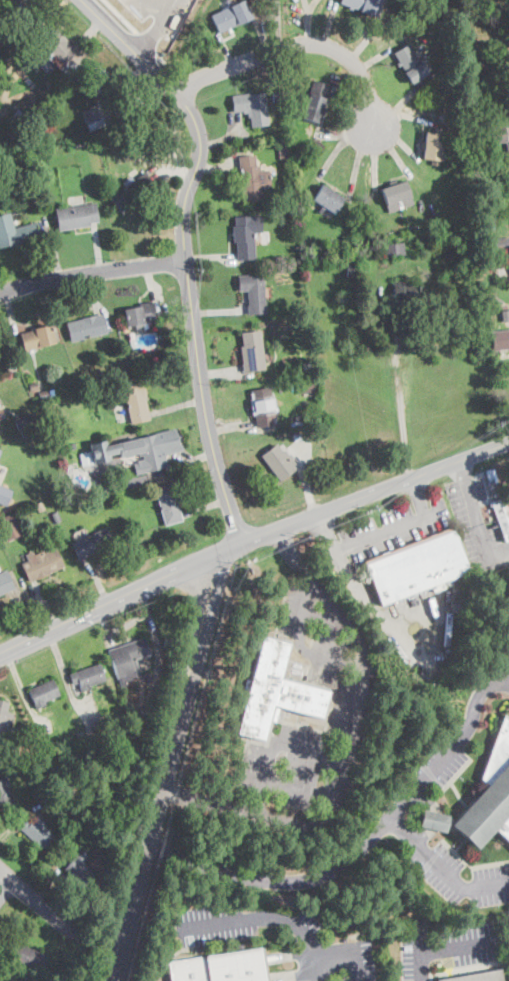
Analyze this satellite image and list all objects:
building: (11, 1)
road: (20, 2)
road: (310, 5)
building: (363, 5)
road: (155, 9)
building: (231, 16)
road: (307, 21)
road: (329, 24)
road: (278, 25)
road: (156, 27)
road: (259, 28)
road: (366, 41)
building: (1, 44)
road: (296, 45)
building: (54, 47)
building: (10, 51)
road: (226, 51)
road: (373, 58)
building: (410, 63)
building: (97, 79)
building: (275, 83)
road: (125, 85)
building: (277, 97)
building: (315, 101)
road: (400, 104)
building: (252, 107)
road: (405, 116)
building: (94, 119)
building: (26, 122)
road: (342, 130)
road: (240, 132)
building: (498, 135)
building: (142, 136)
road: (225, 136)
building: (89, 146)
road: (406, 146)
building: (433, 146)
building: (282, 149)
building: (455, 149)
building: (47, 152)
building: (508, 152)
road: (336, 153)
road: (395, 154)
road: (357, 160)
road: (215, 163)
road: (376, 165)
road: (172, 170)
building: (252, 178)
building: (133, 193)
building: (396, 193)
building: (328, 200)
building: (76, 216)
building: (15, 231)
building: (244, 237)
building: (501, 243)
road: (55, 247)
road: (96, 247)
building: (394, 249)
road: (184, 250)
building: (444, 255)
road: (209, 259)
building: (352, 271)
road: (91, 272)
road: (153, 291)
building: (253, 292)
building: (407, 293)
road: (95, 301)
building: (303, 306)
road: (217, 310)
road: (374, 310)
road: (11, 312)
building: (139, 315)
building: (505, 315)
building: (86, 327)
building: (38, 337)
building: (500, 339)
building: (252, 351)
building: (308, 366)
building: (10, 367)
building: (134, 369)
road: (397, 372)
road: (220, 373)
building: (88, 385)
building: (34, 386)
building: (306, 386)
building: (44, 394)
building: (136, 402)
building: (26, 403)
road: (176, 406)
building: (262, 406)
building: (24, 422)
road: (240, 425)
building: (300, 437)
building: (71, 445)
building: (0, 449)
building: (136, 450)
building: (0, 451)
building: (279, 462)
road: (464, 469)
road: (149, 475)
road: (307, 479)
road: (434, 491)
building: (4, 495)
road: (363, 496)
road: (418, 497)
building: (168, 504)
building: (39, 507)
road: (204, 507)
building: (502, 516)
building: (56, 517)
road: (477, 520)
parking lot: (474, 523)
building: (9, 527)
parking lot: (393, 528)
road: (386, 531)
road: (326, 532)
building: (92, 543)
road: (292, 556)
building: (42, 564)
building: (417, 567)
road: (357, 580)
road: (93, 582)
building: (5, 583)
road: (109, 601)
road: (21, 604)
road: (44, 604)
road: (128, 622)
road: (150, 622)
parking lot: (420, 629)
road: (399, 632)
road: (108, 636)
building: (166, 643)
road: (304, 649)
building: (128, 657)
road: (364, 661)
parking lot: (498, 675)
road: (67, 676)
building: (87, 677)
road: (498, 682)
building: (274, 691)
road: (23, 692)
building: (43, 693)
building: (151, 693)
road: (201, 701)
parking lot: (348, 704)
road: (472, 714)
building: (97, 719)
building: (118, 719)
building: (4, 722)
building: (139, 728)
building: (81, 736)
building: (94, 741)
parking lot: (441, 760)
road: (442, 760)
road: (166, 767)
road: (262, 784)
building: (66, 788)
building: (5, 793)
building: (483, 799)
road: (434, 814)
road: (17, 821)
road: (403, 828)
building: (36, 831)
road: (161, 850)
building: (80, 868)
road: (56, 872)
parking lot: (460, 877)
road: (303, 879)
road: (456, 879)
road: (5, 886)
road: (35, 899)
road: (270, 918)
road: (143, 922)
parking lot: (204, 940)
parking lot: (448, 948)
road: (350, 949)
road: (444, 949)
building: (24, 955)
road: (9, 966)
building: (220, 967)
building: (479, 977)
road: (6, 978)
building: (29, 978)
building: (0, 980)

